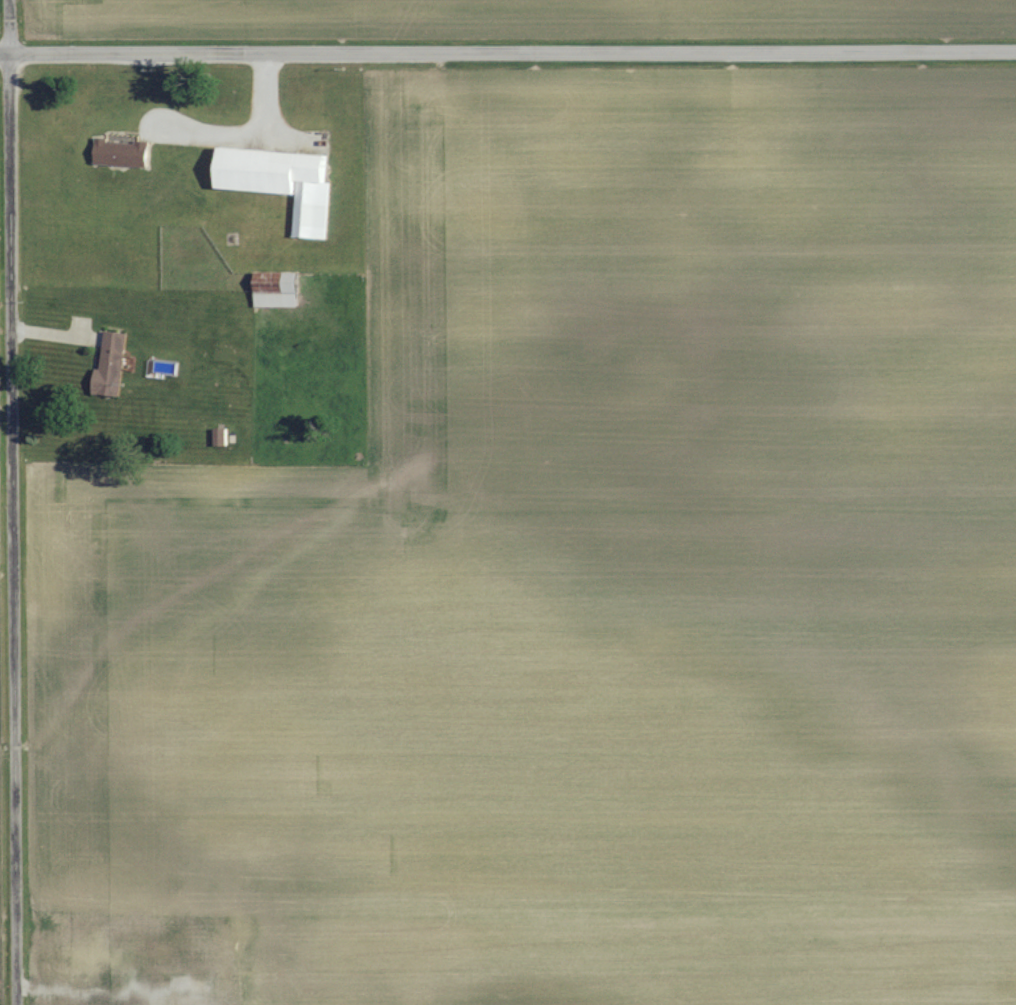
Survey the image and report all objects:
road: (8, 46)
road: (516, 46)
building: (121, 152)
building: (280, 182)
building: (275, 289)
building: (110, 364)
building: (219, 438)
road: (20, 502)
building: (103, 956)
building: (191, 988)

